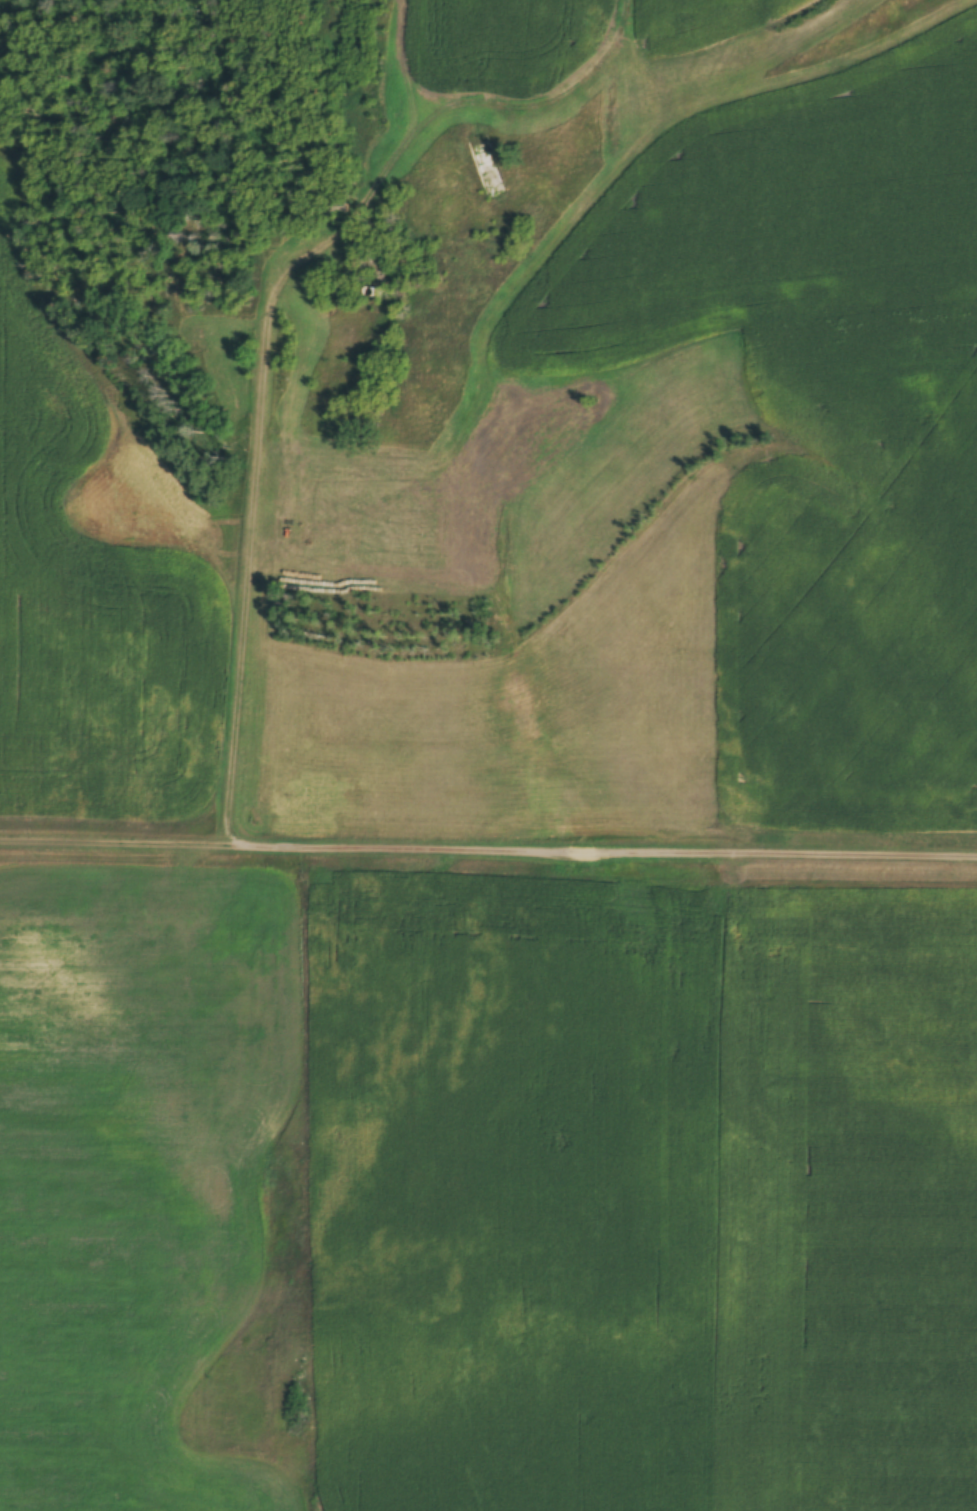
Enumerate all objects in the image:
road: (80, 372)
road: (260, 390)
road: (236, 699)
road: (488, 845)
power tower: (307, 873)
power tower: (719, 881)

